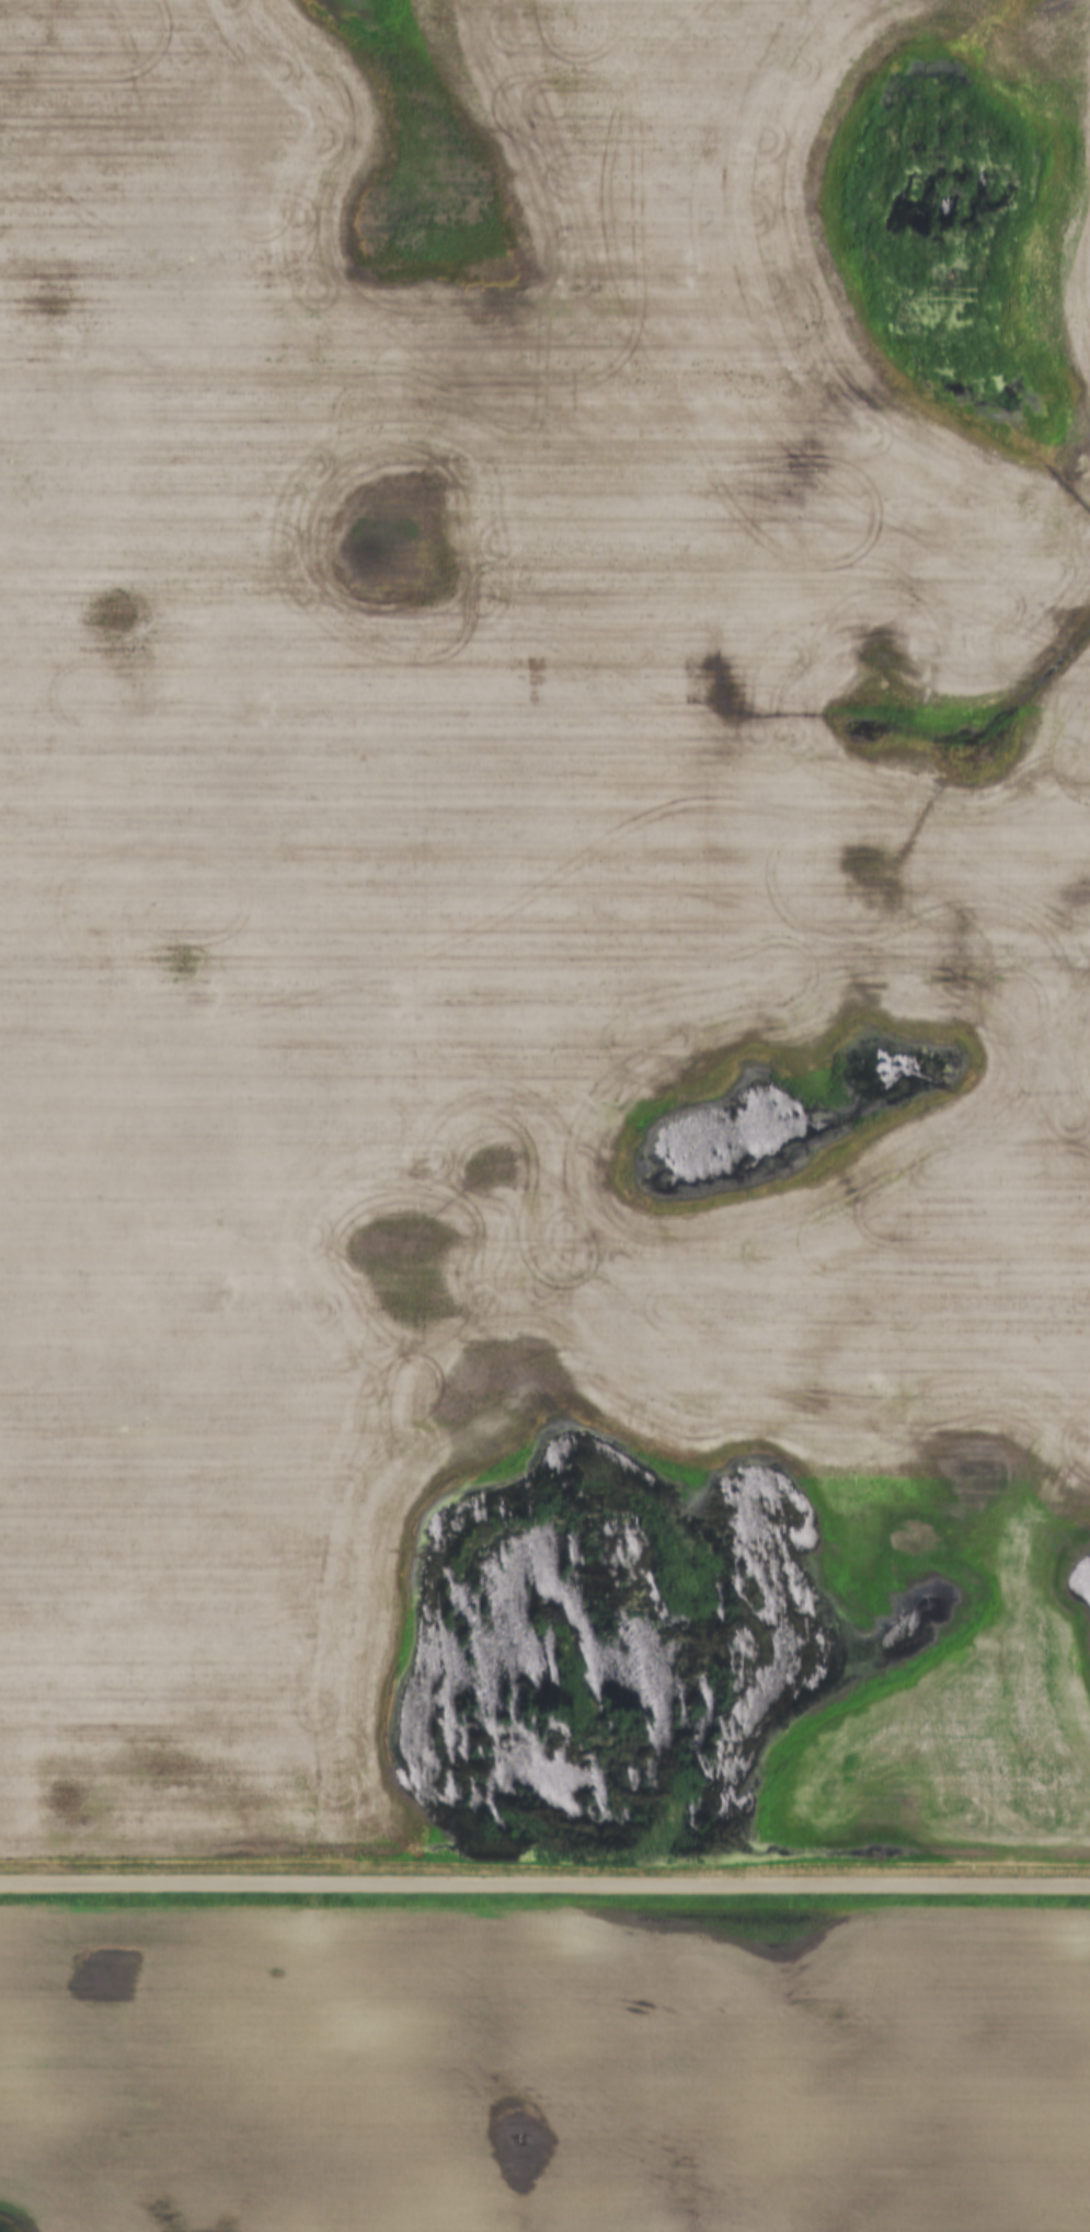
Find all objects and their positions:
road: (544, 1888)

